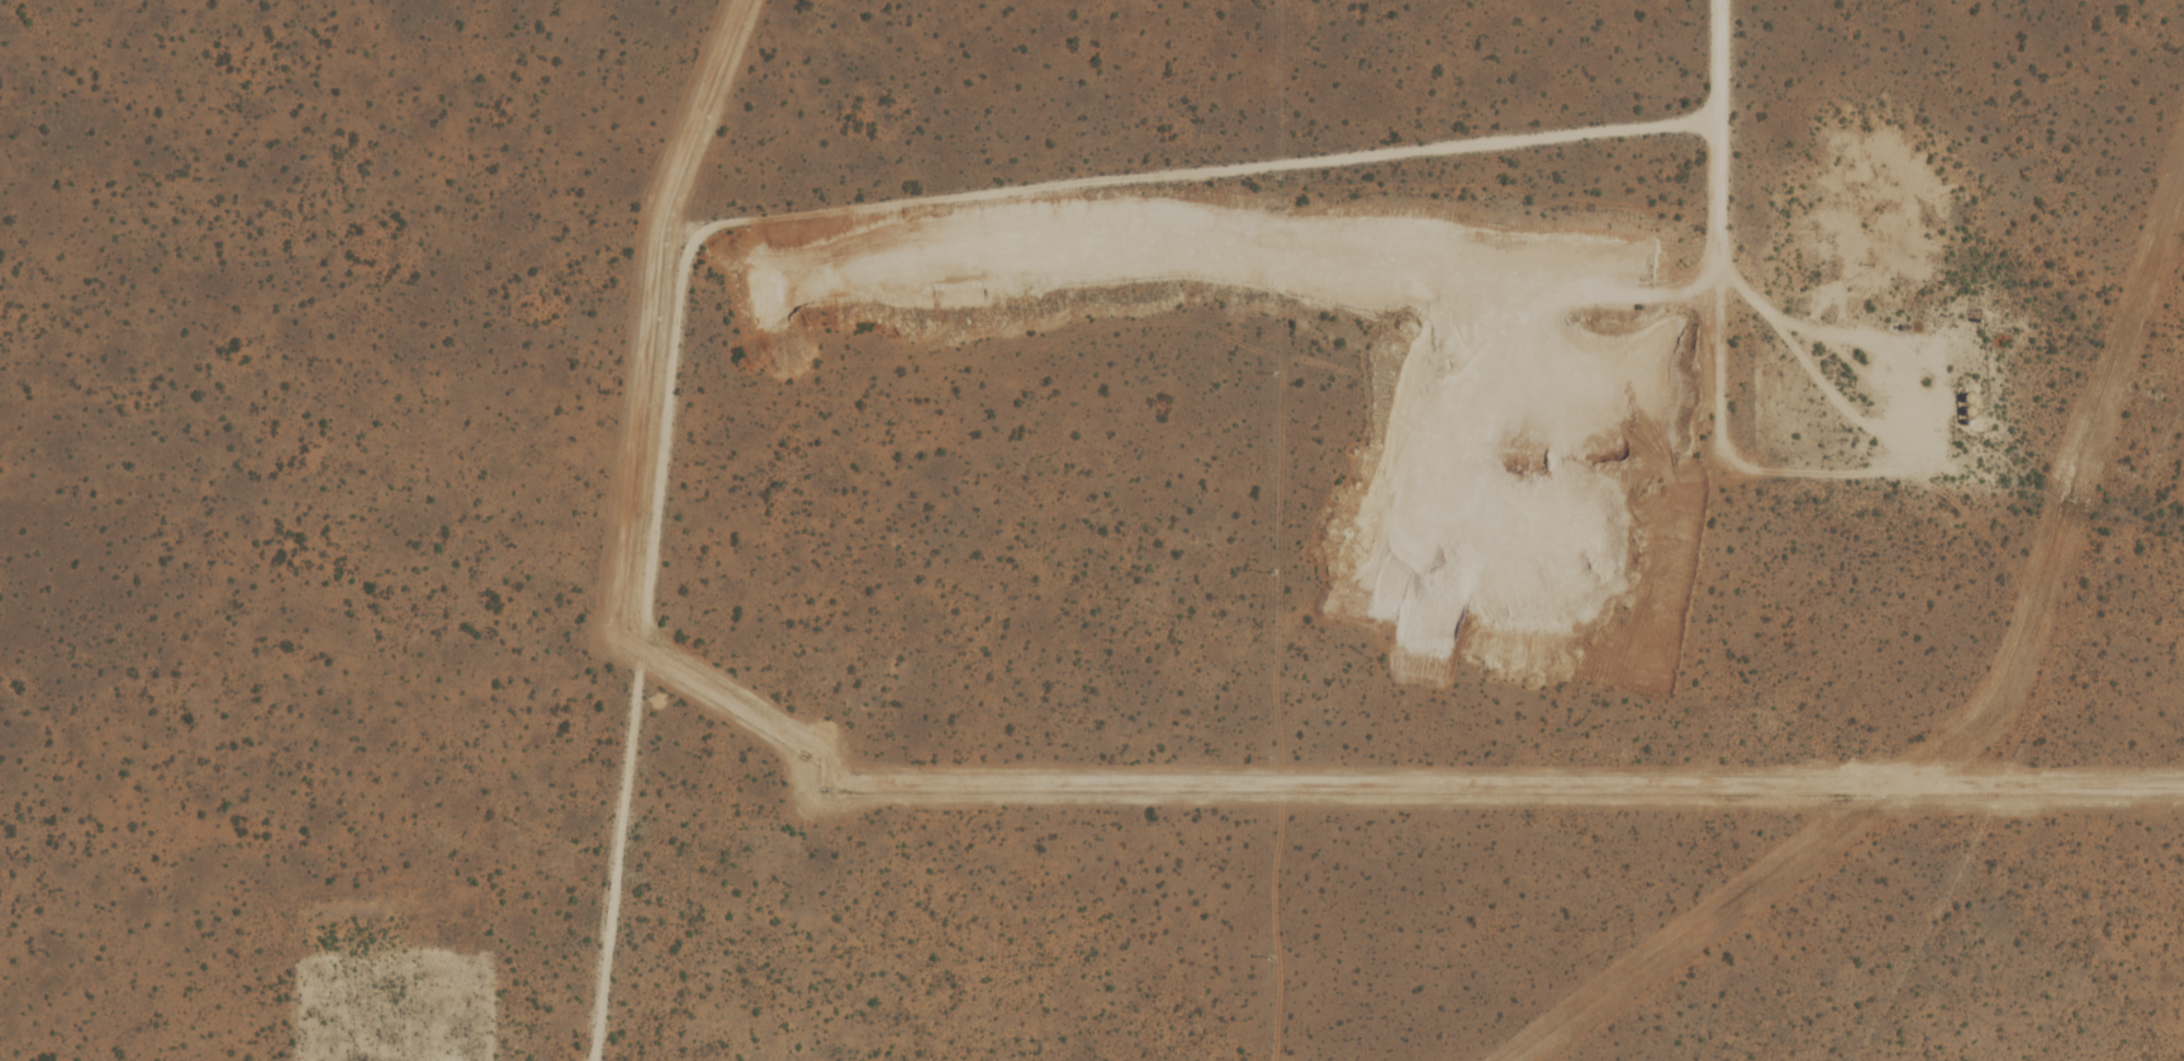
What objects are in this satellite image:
road: (796, 207)
road: (1752, 285)

